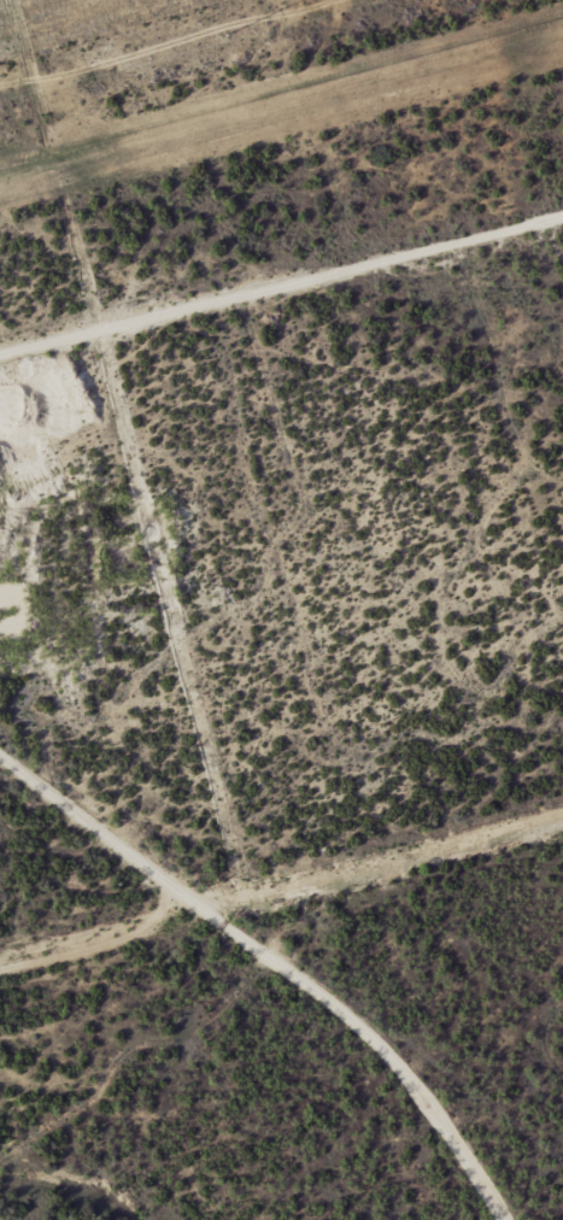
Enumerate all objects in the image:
power tower: (225, 35)

